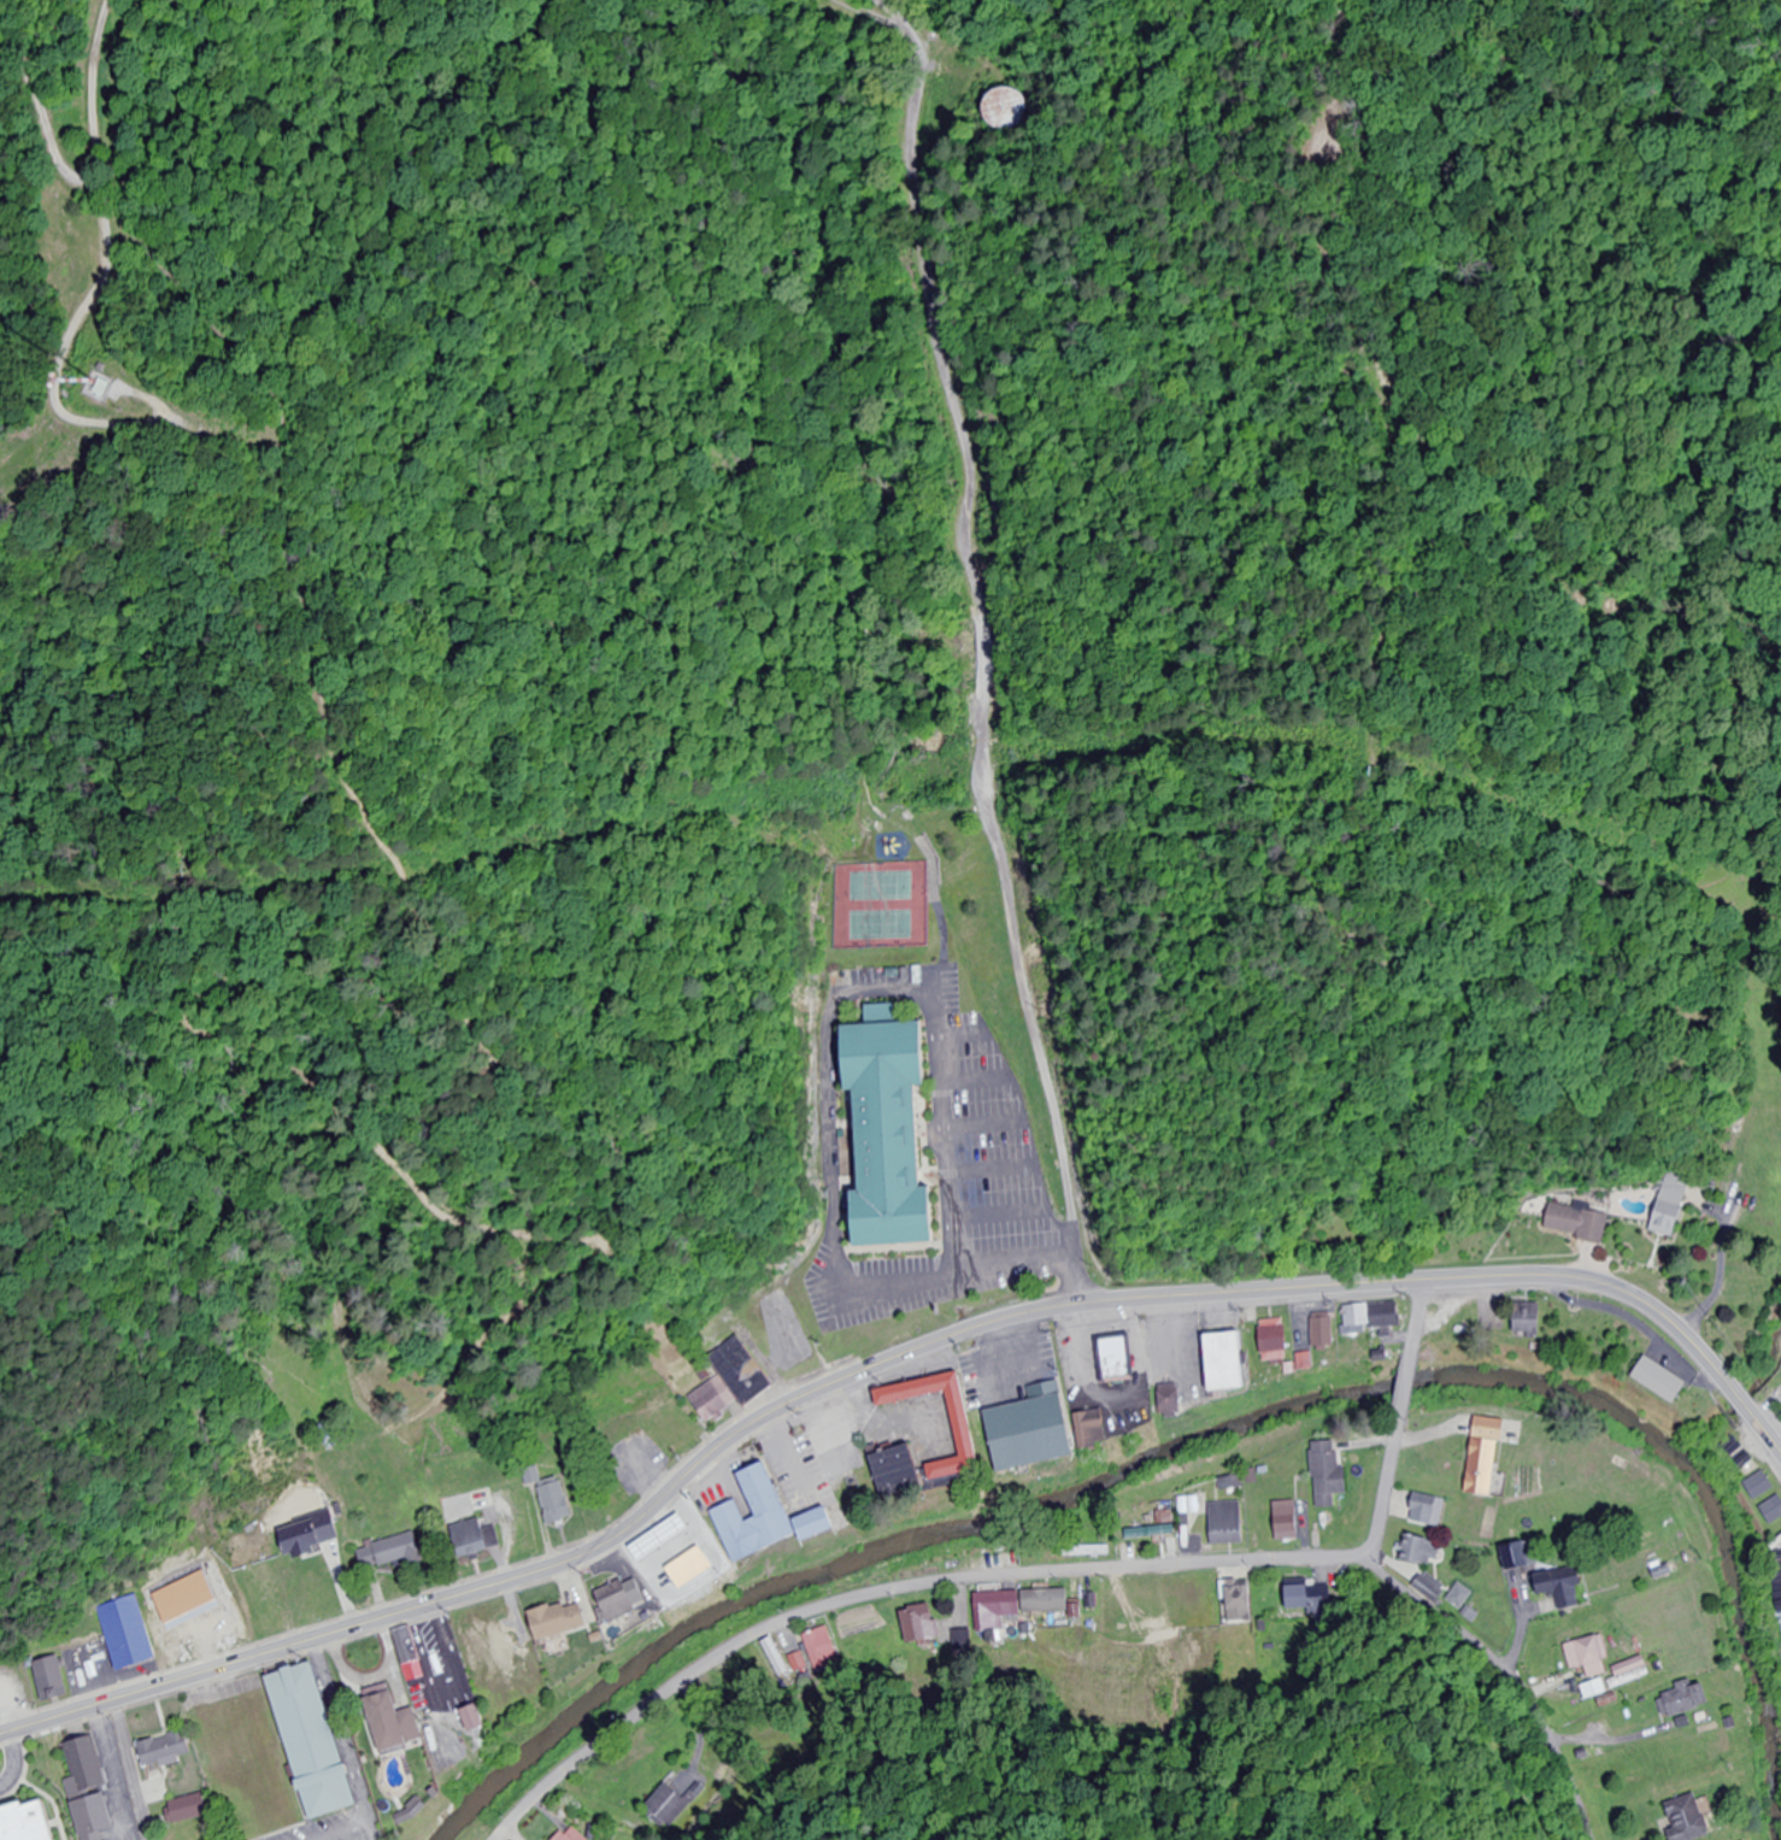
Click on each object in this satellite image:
building: (1004, 107)
road: (100, 282)
road: (981, 646)
road: (922, 852)
park: (878, 905)
road: (877, 993)
road: (963, 1037)
road: (977, 1082)
building: (892, 1124)
road: (988, 1130)
road: (995, 1175)
building: (1671, 1204)
road: (1001, 1218)
building: (1576, 1222)
building: (1373, 1315)
building: (1530, 1317)
building: (1324, 1331)
building: (1276, 1340)
building: (1116, 1358)
road: (887, 1360)
building: (1232, 1362)
building: (745, 1370)
building: (1663, 1380)
building: (712, 1398)
building: (1172, 1400)
road: (1403, 1417)
building: (678, 1422)
building: (969, 1430)
building: (1095, 1430)
building: (1486, 1456)
building: (901, 1469)
building: (1329, 1475)
building: (1759, 1485)
building: (554, 1503)
building: (1428, 1510)
building: (1773, 1510)
building: (757, 1515)
building: (1287, 1521)
building: (819, 1523)
building: (1227, 1523)
building: (1151, 1532)
building: (312, 1534)
building: (474, 1538)
building: (1418, 1550)
building: (392, 1553)
building: (666, 1563)
building: (1562, 1586)
building: (1429, 1588)
road: (895, 1592)
building: (1779, 1597)
building: (1307, 1599)
building: (1054, 1600)
building: (619, 1603)
building: (1123, 1603)
building: (1240, 1603)
building: (542, 1606)
building: (1199, 1606)
building: (997, 1611)
building: (919, 1624)
building: (137, 1632)
building: (598, 1641)
building: (488, 1642)
building: (407, 1645)
building: (821, 1650)
building: (1600, 1659)
road: (1505, 1674)
building: (52, 1679)
building: (1595, 1688)
building: (545, 1691)
building: (1687, 1699)
building: (477, 1718)
building: (394, 1722)
building: (316, 1741)
building: (169, 1754)
road: (130, 1769)
building: (92, 1789)
building: (670, 1806)
building: (192, 1807)
building: (1688, 1820)
building: (31, 1823)
road: (518, 1833)
building: (570, 1835)
road: (368, 1836)

